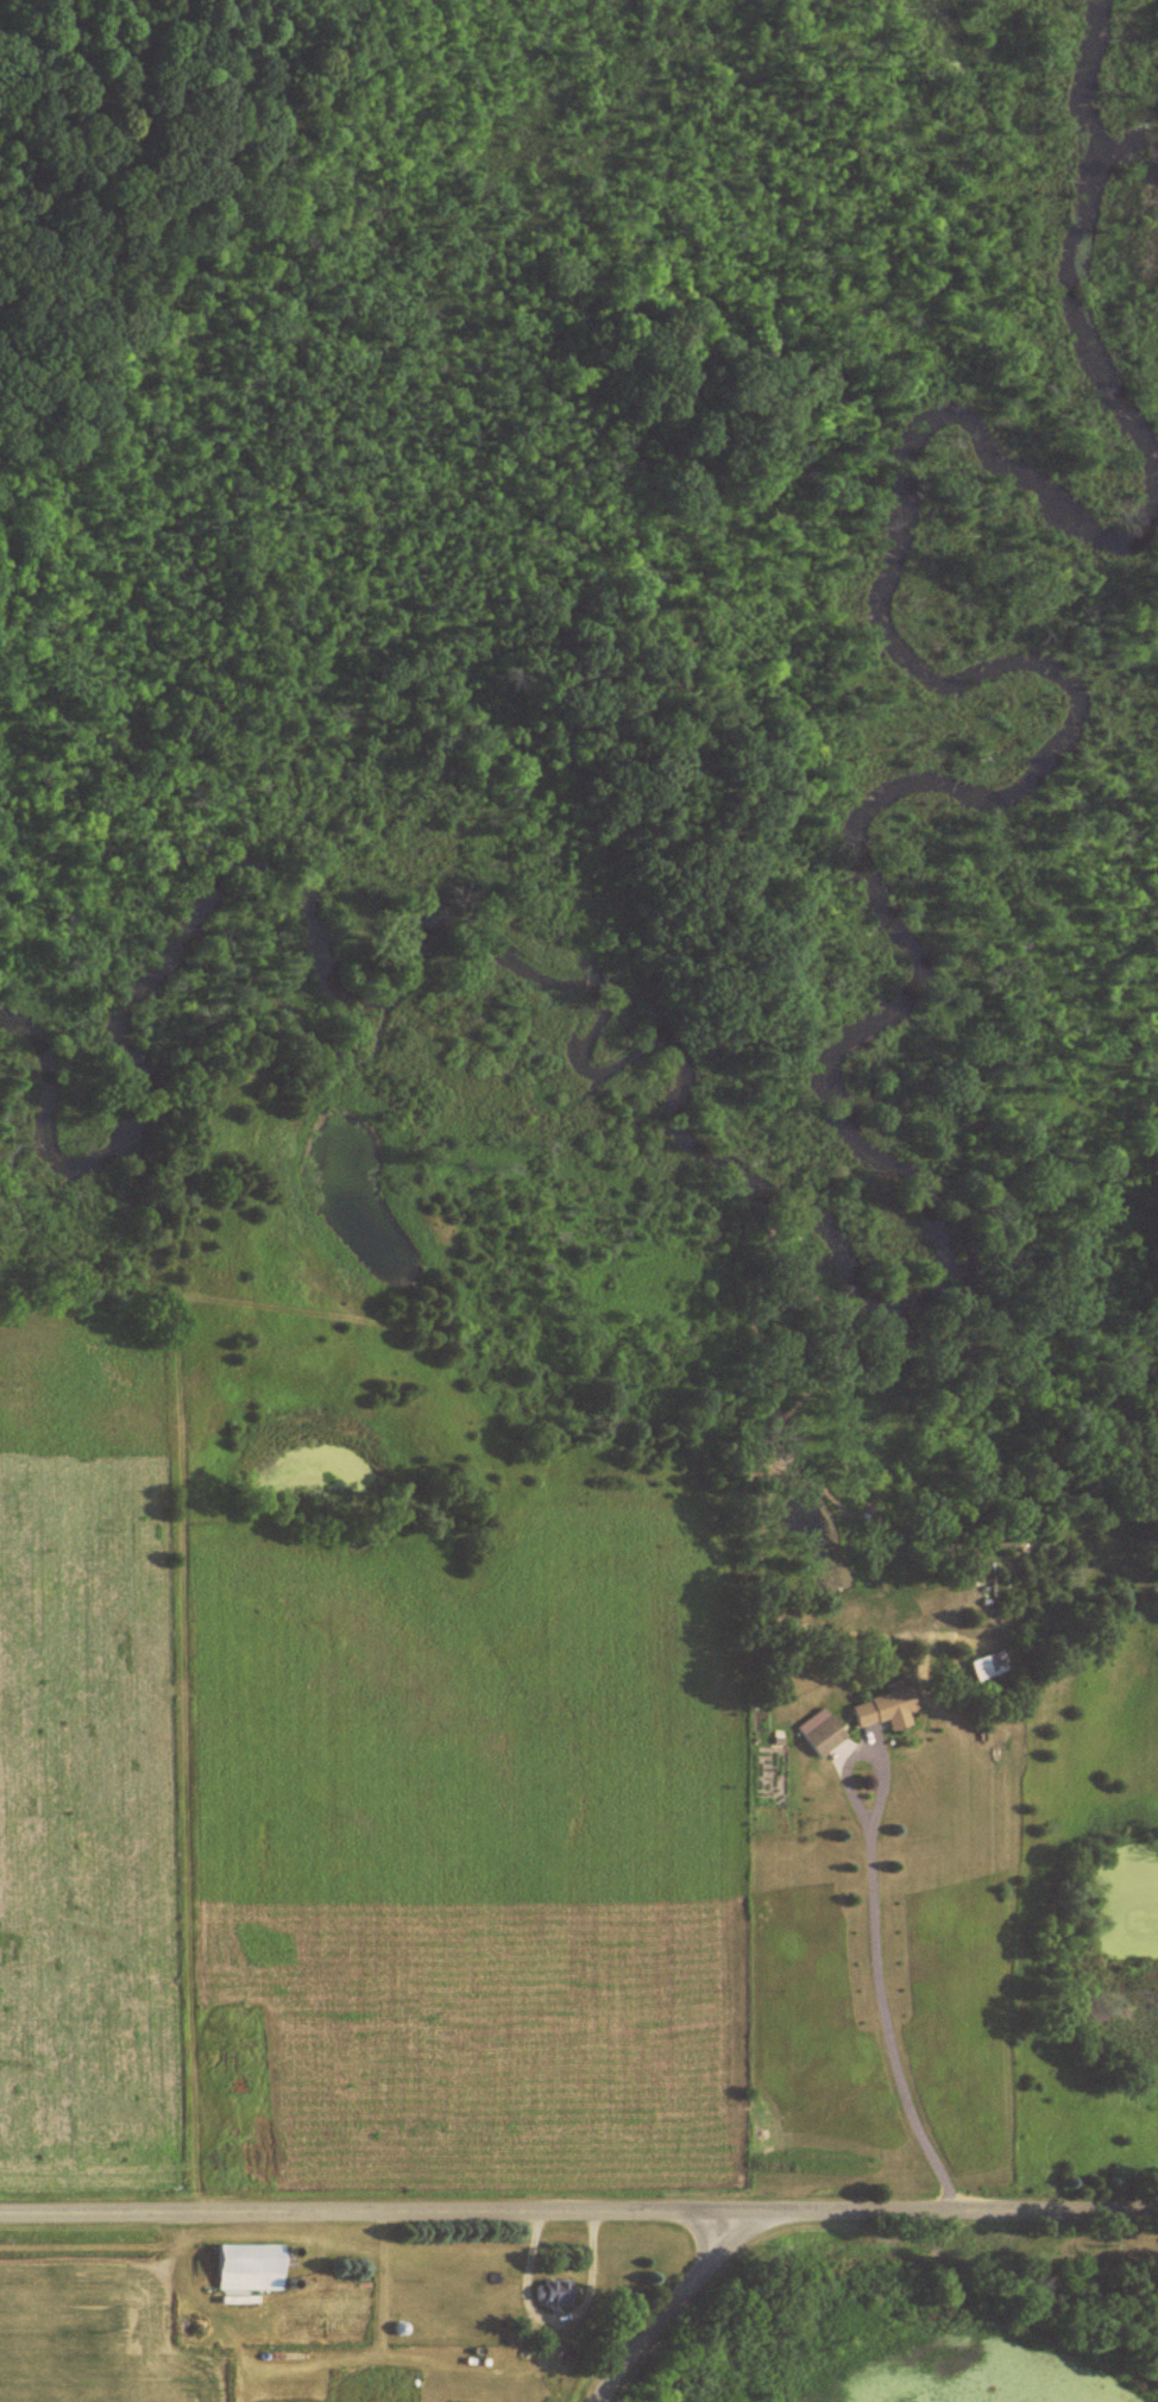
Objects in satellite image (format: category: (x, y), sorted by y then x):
river: (1089, 247)
building: (886, 1708)
building: (826, 1737)
road: (579, 2205)
building: (251, 2266)
building: (554, 2291)
road: (656, 2303)

